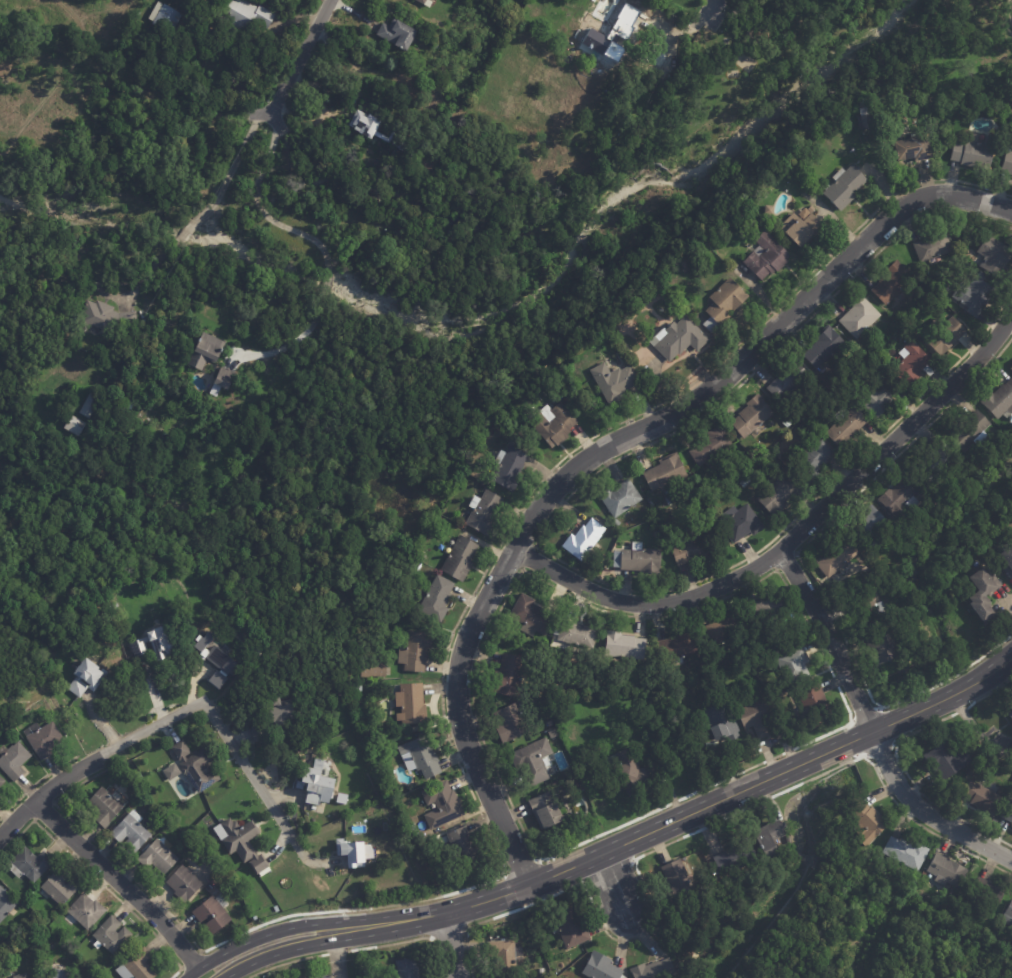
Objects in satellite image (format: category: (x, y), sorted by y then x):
building: (425, 2)
road: (705, 10)
building: (164, 16)
building: (244, 17)
road: (1004, 19)
building: (567, 24)
building: (617, 30)
building: (398, 35)
building: (435, 46)
road: (302, 56)
building: (165, 60)
road: (63, 79)
building: (864, 117)
building: (366, 122)
building: (404, 141)
building: (545, 146)
building: (916, 146)
building: (975, 152)
building: (533, 161)
building: (1007, 162)
road: (232, 166)
building: (844, 186)
building: (763, 208)
building: (810, 209)
building: (741, 214)
building: (799, 228)
road: (187, 229)
road: (317, 246)
building: (932, 246)
building: (766, 256)
building: (995, 256)
road: (155, 267)
building: (892, 282)
building: (976, 294)
building: (724, 303)
building: (106, 316)
building: (860, 317)
building: (905, 333)
building: (946, 334)
building: (680, 337)
building: (824, 348)
building: (206, 350)
building: (876, 355)
building: (912, 364)
building: (1011, 367)
building: (224, 377)
building: (614, 381)
building: (788, 383)
building: (878, 395)
building: (997, 398)
building: (89, 405)
building: (753, 416)
building: (787, 423)
building: (554, 424)
building: (74, 425)
building: (846, 425)
building: (964, 430)
building: (712, 446)
road: (603, 448)
building: (813, 461)
building: (935, 464)
building: (510, 468)
building: (666, 471)
building: (745, 483)
building: (779, 494)
building: (902, 497)
building: (620, 498)
building: (670, 499)
building: (484, 512)
building: (764, 517)
building: (741, 522)
building: (616, 523)
building: (874, 527)
building: (656, 534)
road: (794, 536)
building: (585, 538)
road: (535, 545)
building: (692, 549)
building: (836, 557)
building: (460, 558)
building: (639, 560)
road: (800, 562)
building: (1008, 562)
building: (418, 567)
road: (519, 568)
road: (774, 571)
building: (873, 575)
building: (984, 593)
building: (437, 598)
road: (87, 599)
building: (114, 605)
building: (869, 609)
building: (769, 610)
building: (532, 614)
building: (723, 630)
building: (576, 634)
road: (484, 635)
building: (148, 642)
building: (624, 645)
road: (46, 646)
building: (679, 646)
building: (882, 646)
building: (416, 652)
building: (214, 660)
building: (794, 665)
building: (373, 667)
road: (441, 671)
building: (508, 675)
building: (86, 677)
road: (989, 692)
building: (812, 702)
building: (411, 704)
road: (960, 711)
road: (176, 714)
road: (865, 714)
building: (1010, 715)
building: (761, 716)
building: (273, 720)
building: (722, 721)
building: (511, 723)
road: (871, 728)
building: (380, 732)
road: (976, 732)
building: (552, 733)
building: (43, 739)
road: (849, 742)
building: (712, 748)
road: (878, 748)
building: (414, 757)
building: (12, 759)
building: (530, 759)
building: (948, 760)
building: (191, 765)
building: (628, 772)
building: (1, 782)
road: (34, 783)
building: (318, 785)
road: (914, 785)
building: (0, 796)
building: (985, 799)
building: (369, 800)
road: (53, 803)
building: (442, 805)
building: (104, 807)
road: (702, 808)
building: (546, 810)
building: (1008, 812)
building: (868, 820)
building: (412, 829)
building: (131, 832)
building: (769, 833)
road: (677, 839)
building: (238, 843)
building: (462, 844)
building: (907, 851)
building: (354, 853)
building: (737, 856)
building: (158, 857)
building: (862, 861)
building: (29, 864)
road: (523, 867)
building: (948, 869)
road: (608, 872)
building: (675, 874)
road: (97, 879)
road: (119, 881)
building: (183, 884)
road: (614, 886)
building: (59, 887)
building: (204, 894)
building: (988, 897)
building: (6, 904)
building: (86, 912)
building: (212, 915)
building: (1008, 916)
building: (570, 928)
road: (276, 931)
road: (451, 934)
building: (996, 935)
building: (111, 936)
building: (696, 938)
road: (453, 945)
road: (300, 946)
road: (356, 948)
building: (507, 955)
road: (190, 960)
building: (138, 966)
building: (408, 967)
building: (601, 967)
building: (655, 969)
building: (541, 971)
building: (57, 973)
building: (21, 976)
building: (93, 976)

